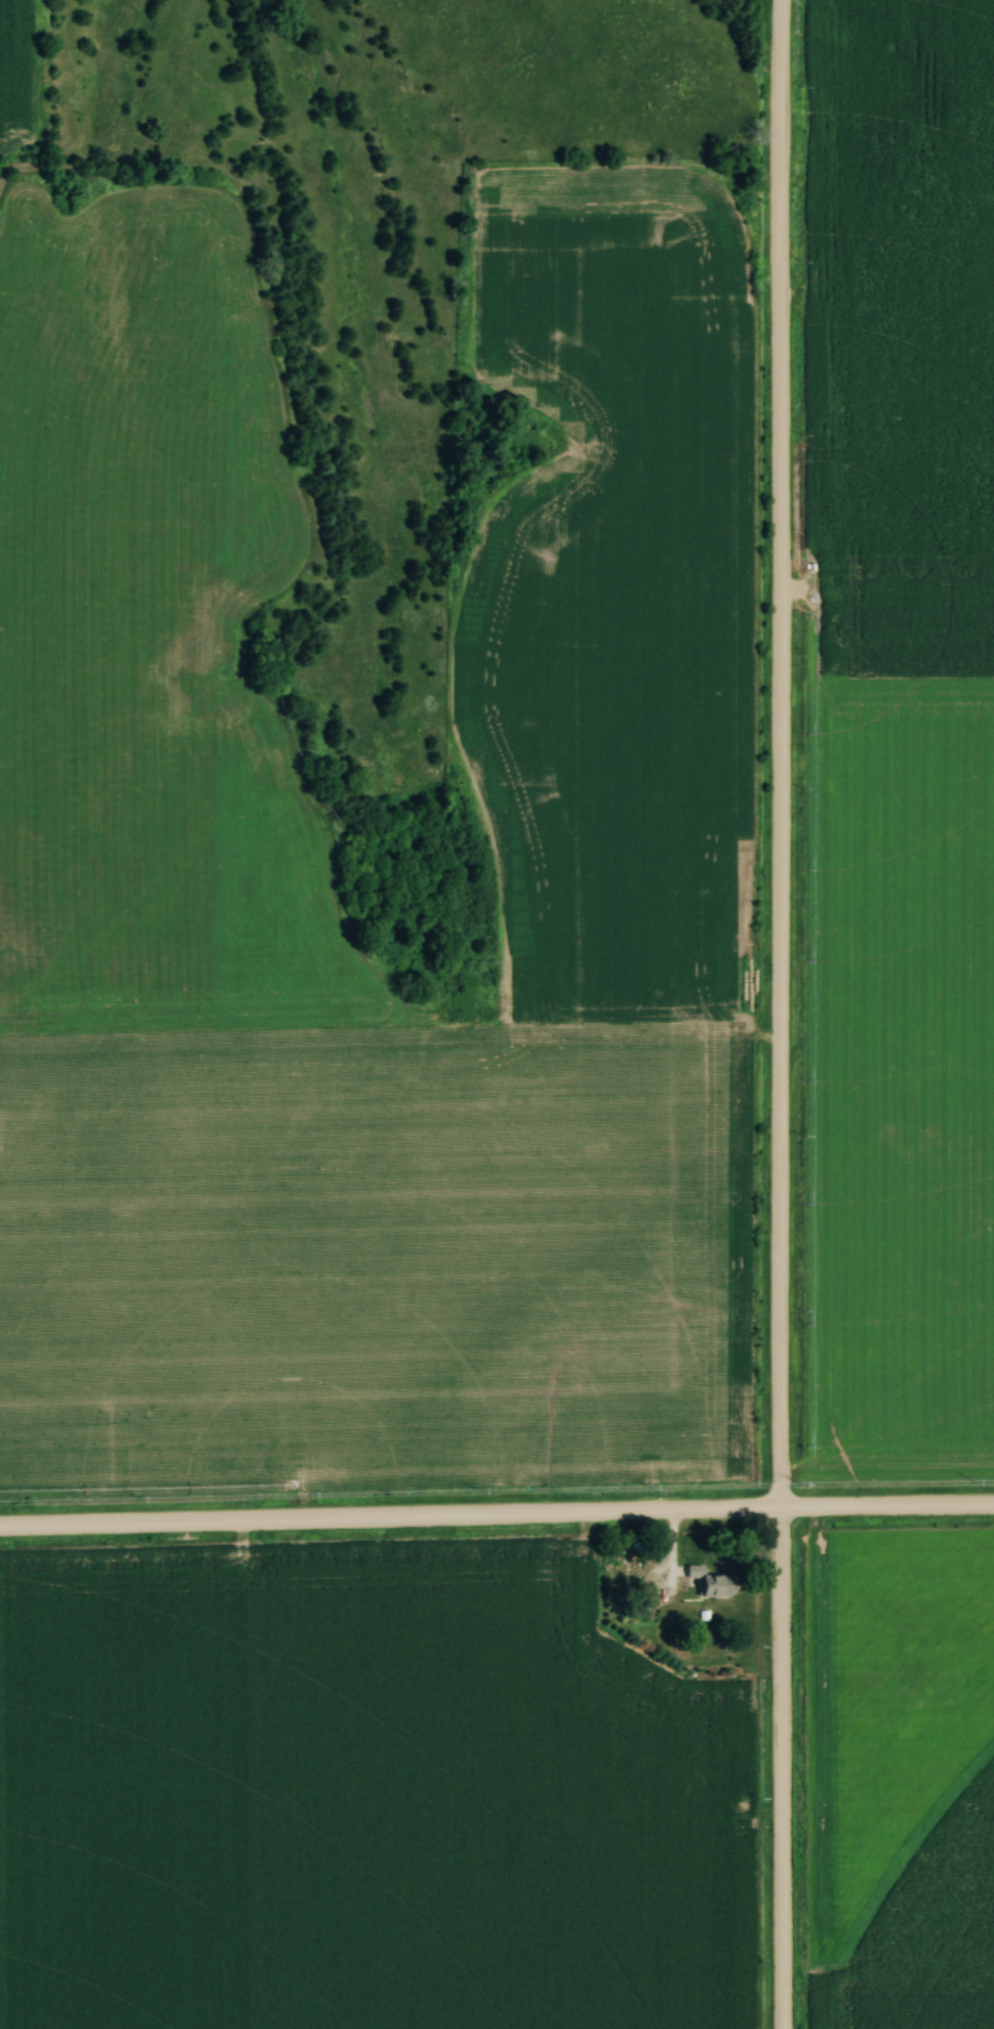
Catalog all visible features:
road: (778, 1014)
road: (496, 1518)
building: (713, 1582)
building: (702, 1762)

